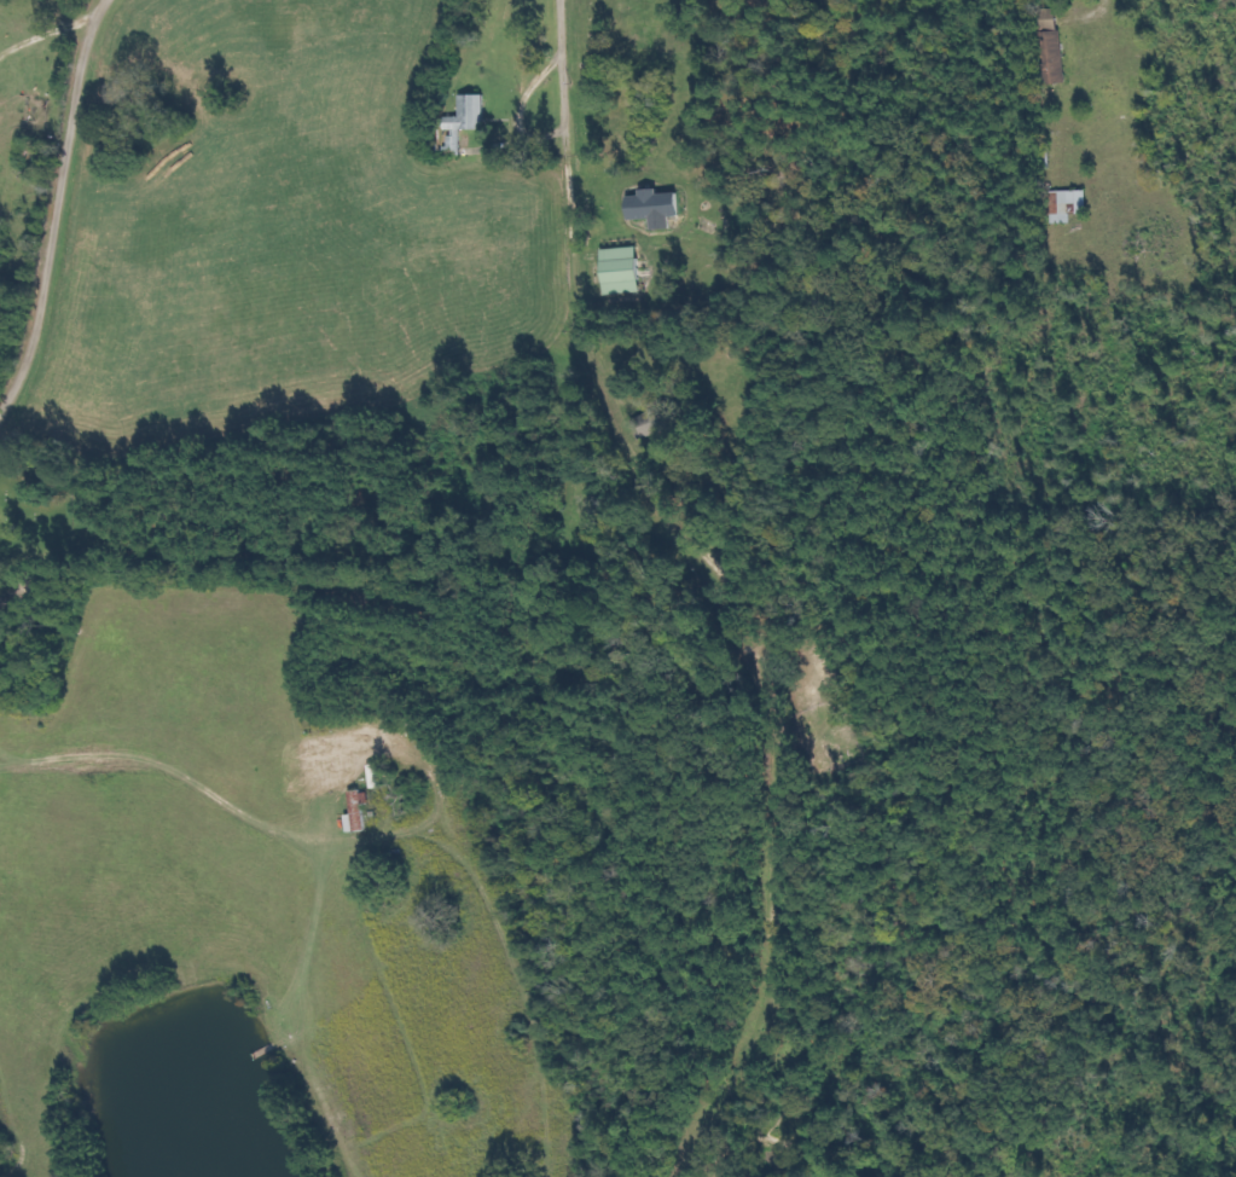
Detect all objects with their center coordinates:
building: (1045, 45)
building: (465, 114)
road: (56, 192)
building: (1060, 204)
building: (620, 269)
building: (646, 423)
road: (707, 593)
park: (825, 676)
road: (158, 738)
building: (354, 810)

